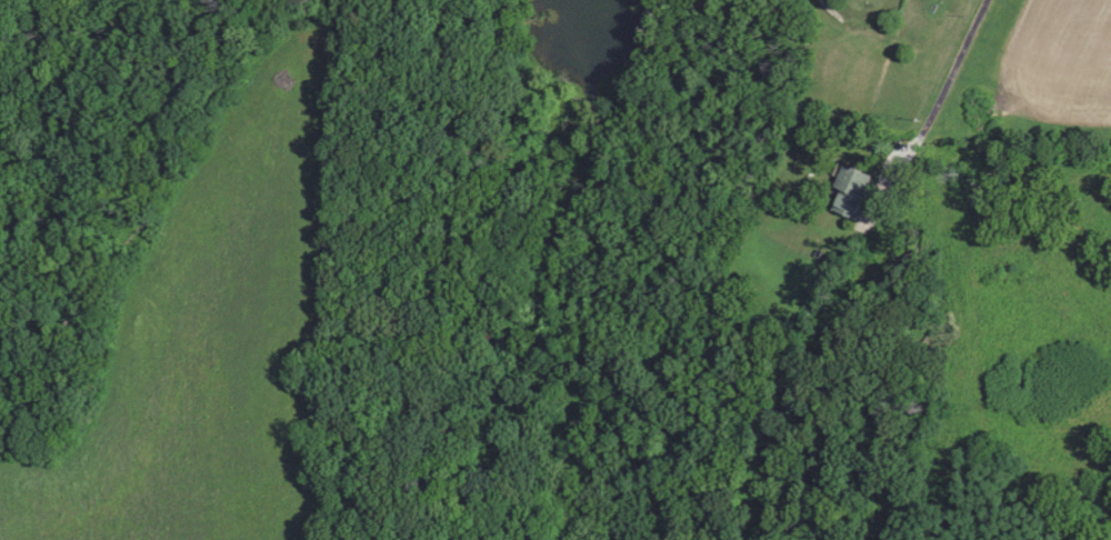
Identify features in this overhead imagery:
road: (928, 119)
building: (850, 191)

